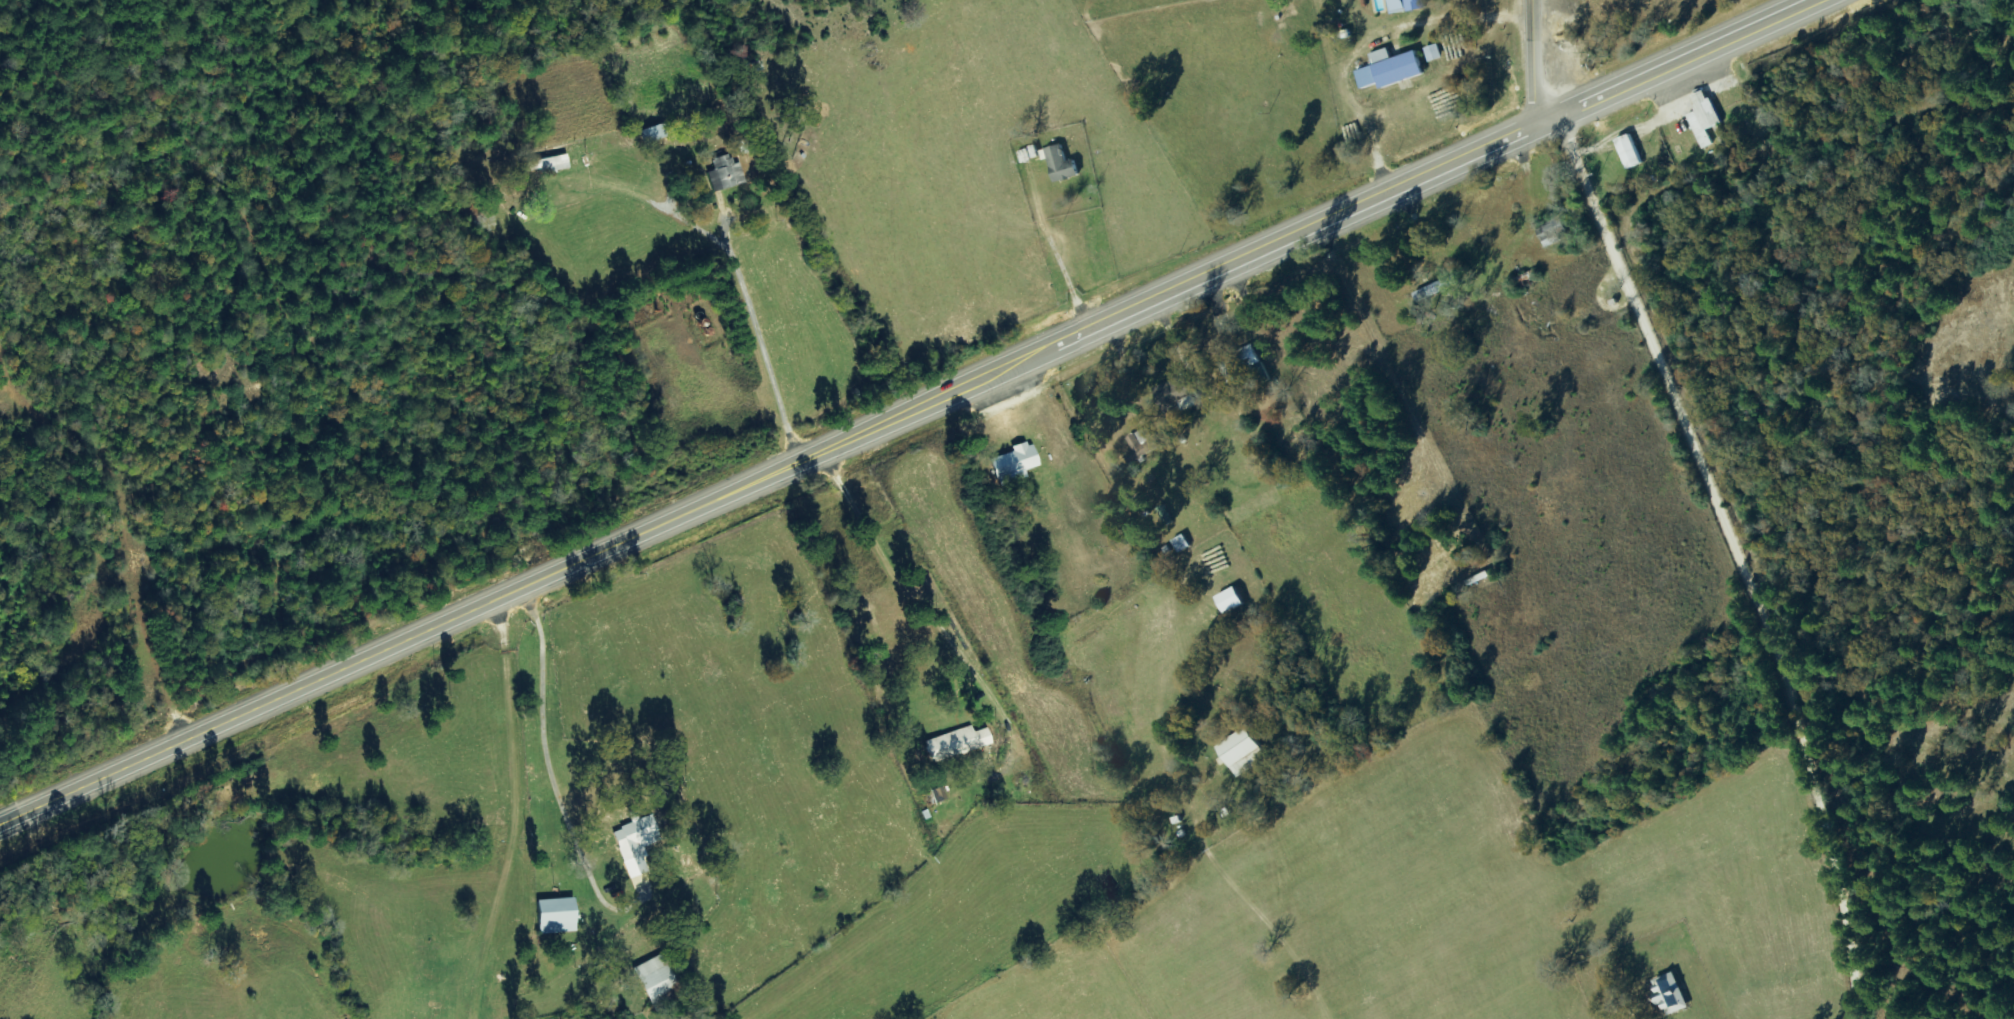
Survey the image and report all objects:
building: (1409, 5)
road: (1689, 59)
road: (1536, 62)
building: (1392, 69)
building: (1706, 118)
building: (1631, 152)
building: (1055, 162)
building: (548, 164)
building: (725, 174)
road: (1307, 232)
building: (1554, 233)
building: (1445, 284)
road: (685, 303)
building: (1176, 390)
building: (1143, 445)
building: (1016, 463)
building: (1431, 553)
road: (1732, 566)
road: (527, 583)
building: (1234, 600)
building: (958, 743)
building: (1239, 752)
building: (637, 843)
building: (559, 915)
building: (659, 981)
building: (1666, 995)

